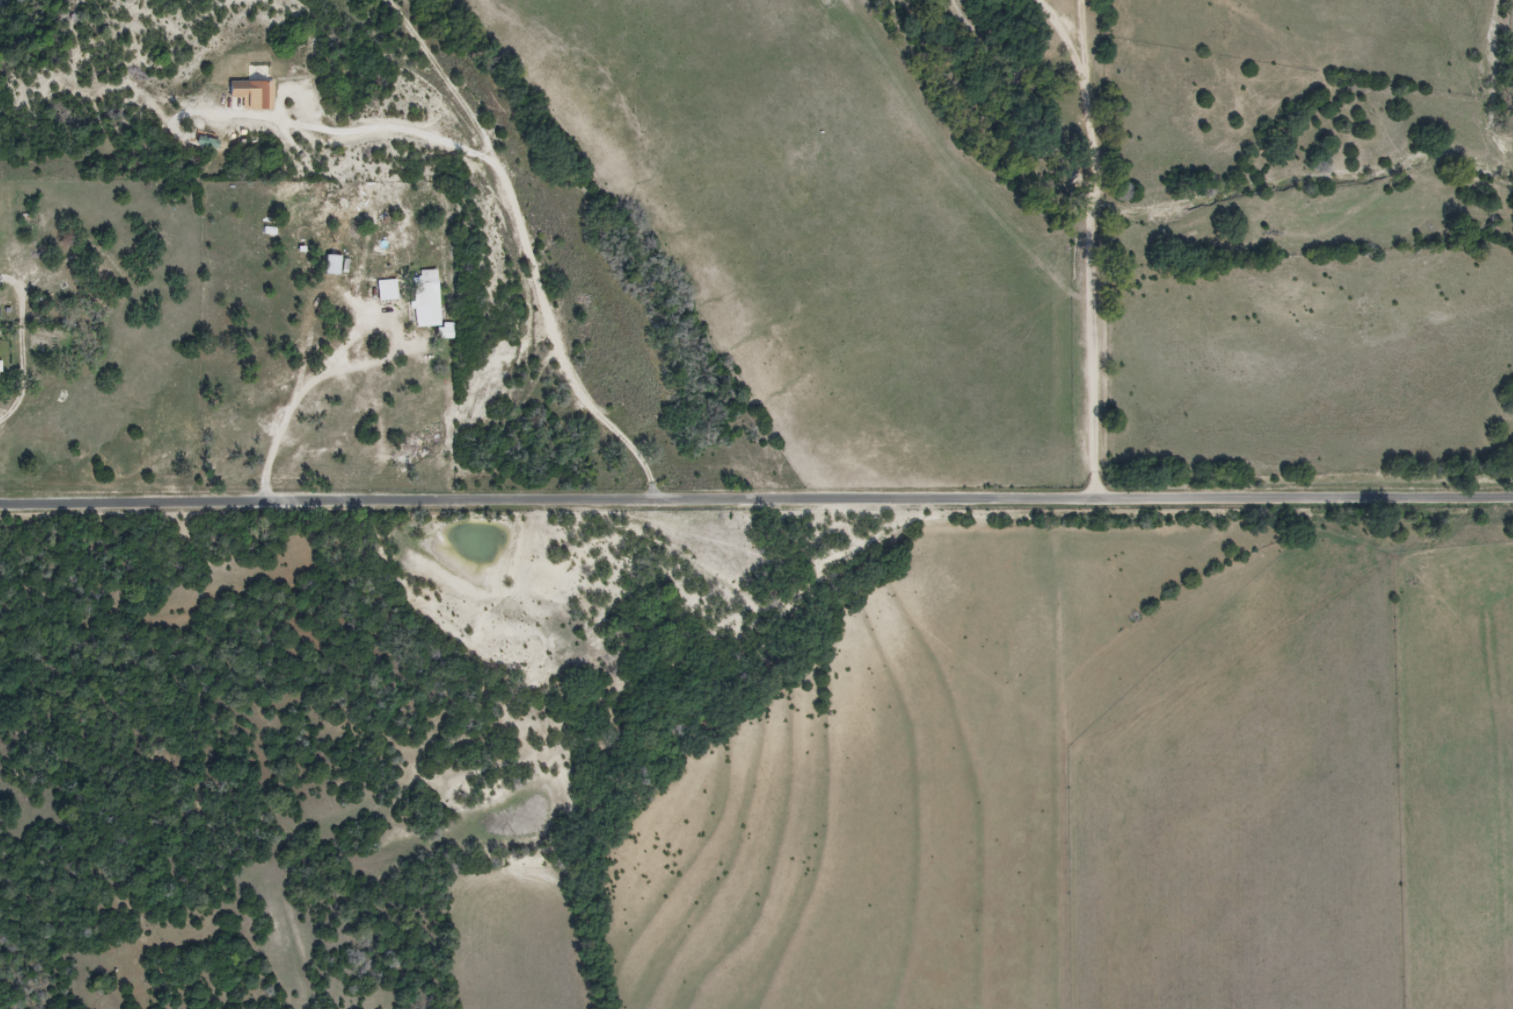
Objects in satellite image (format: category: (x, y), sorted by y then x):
building: (253, 95)
road: (397, 131)
road: (1089, 242)
road: (529, 251)
building: (427, 299)
road: (22, 347)
building: (0, 371)
road: (294, 392)
road: (756, 501)

